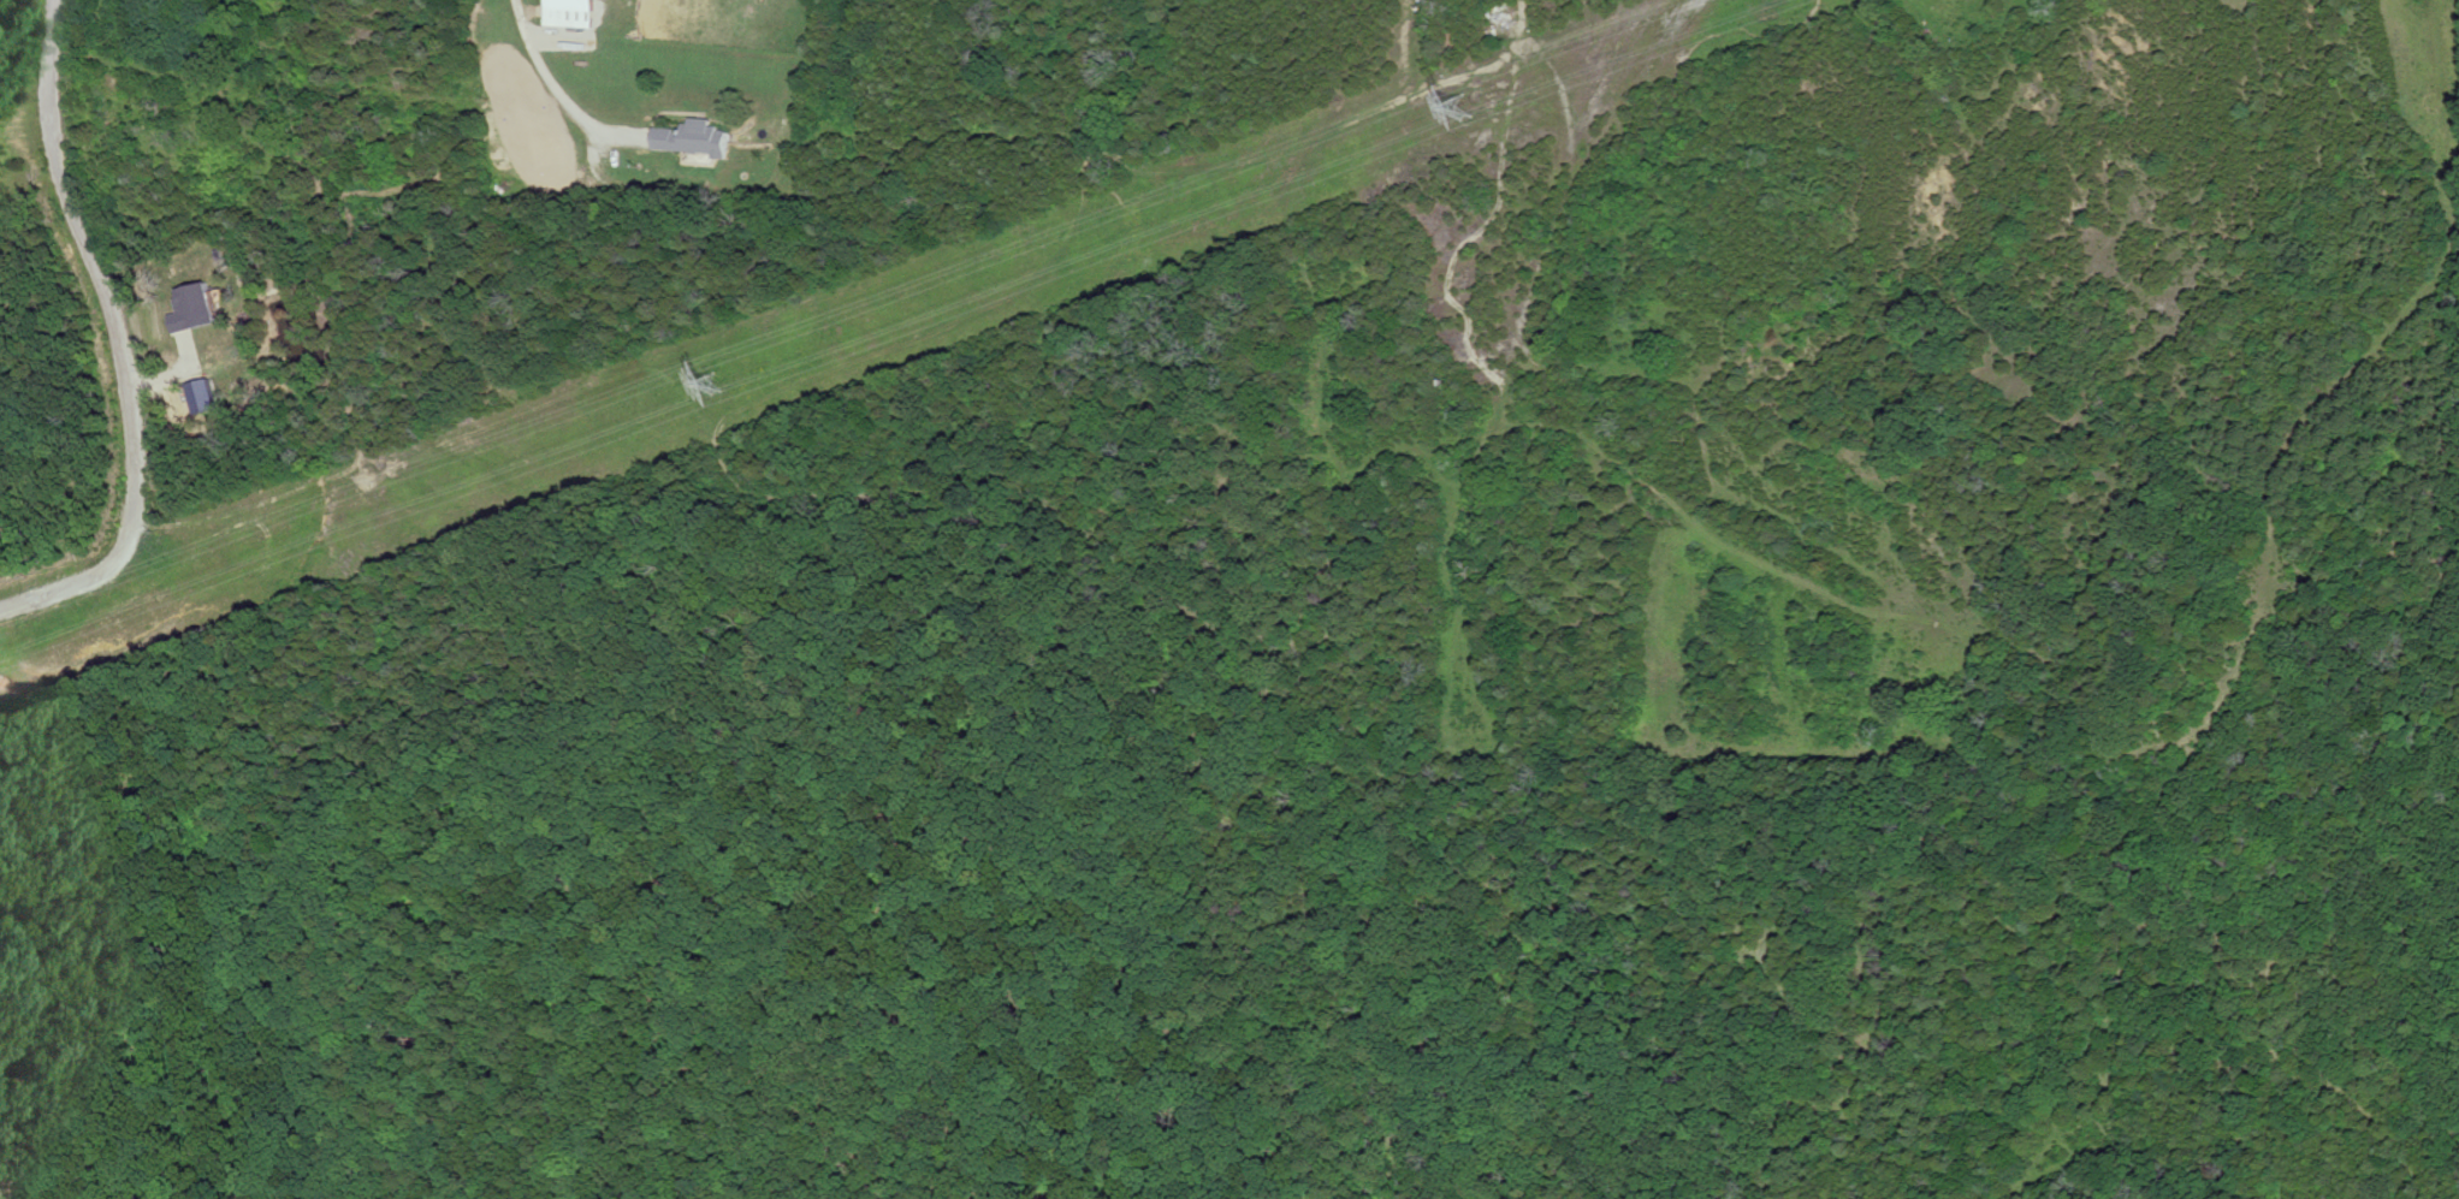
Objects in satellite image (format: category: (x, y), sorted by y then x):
building: (567, 13)
power tower: (1459, 105)
building: (689, 138)
road: (111, 343)
power tower: (710, 380)

